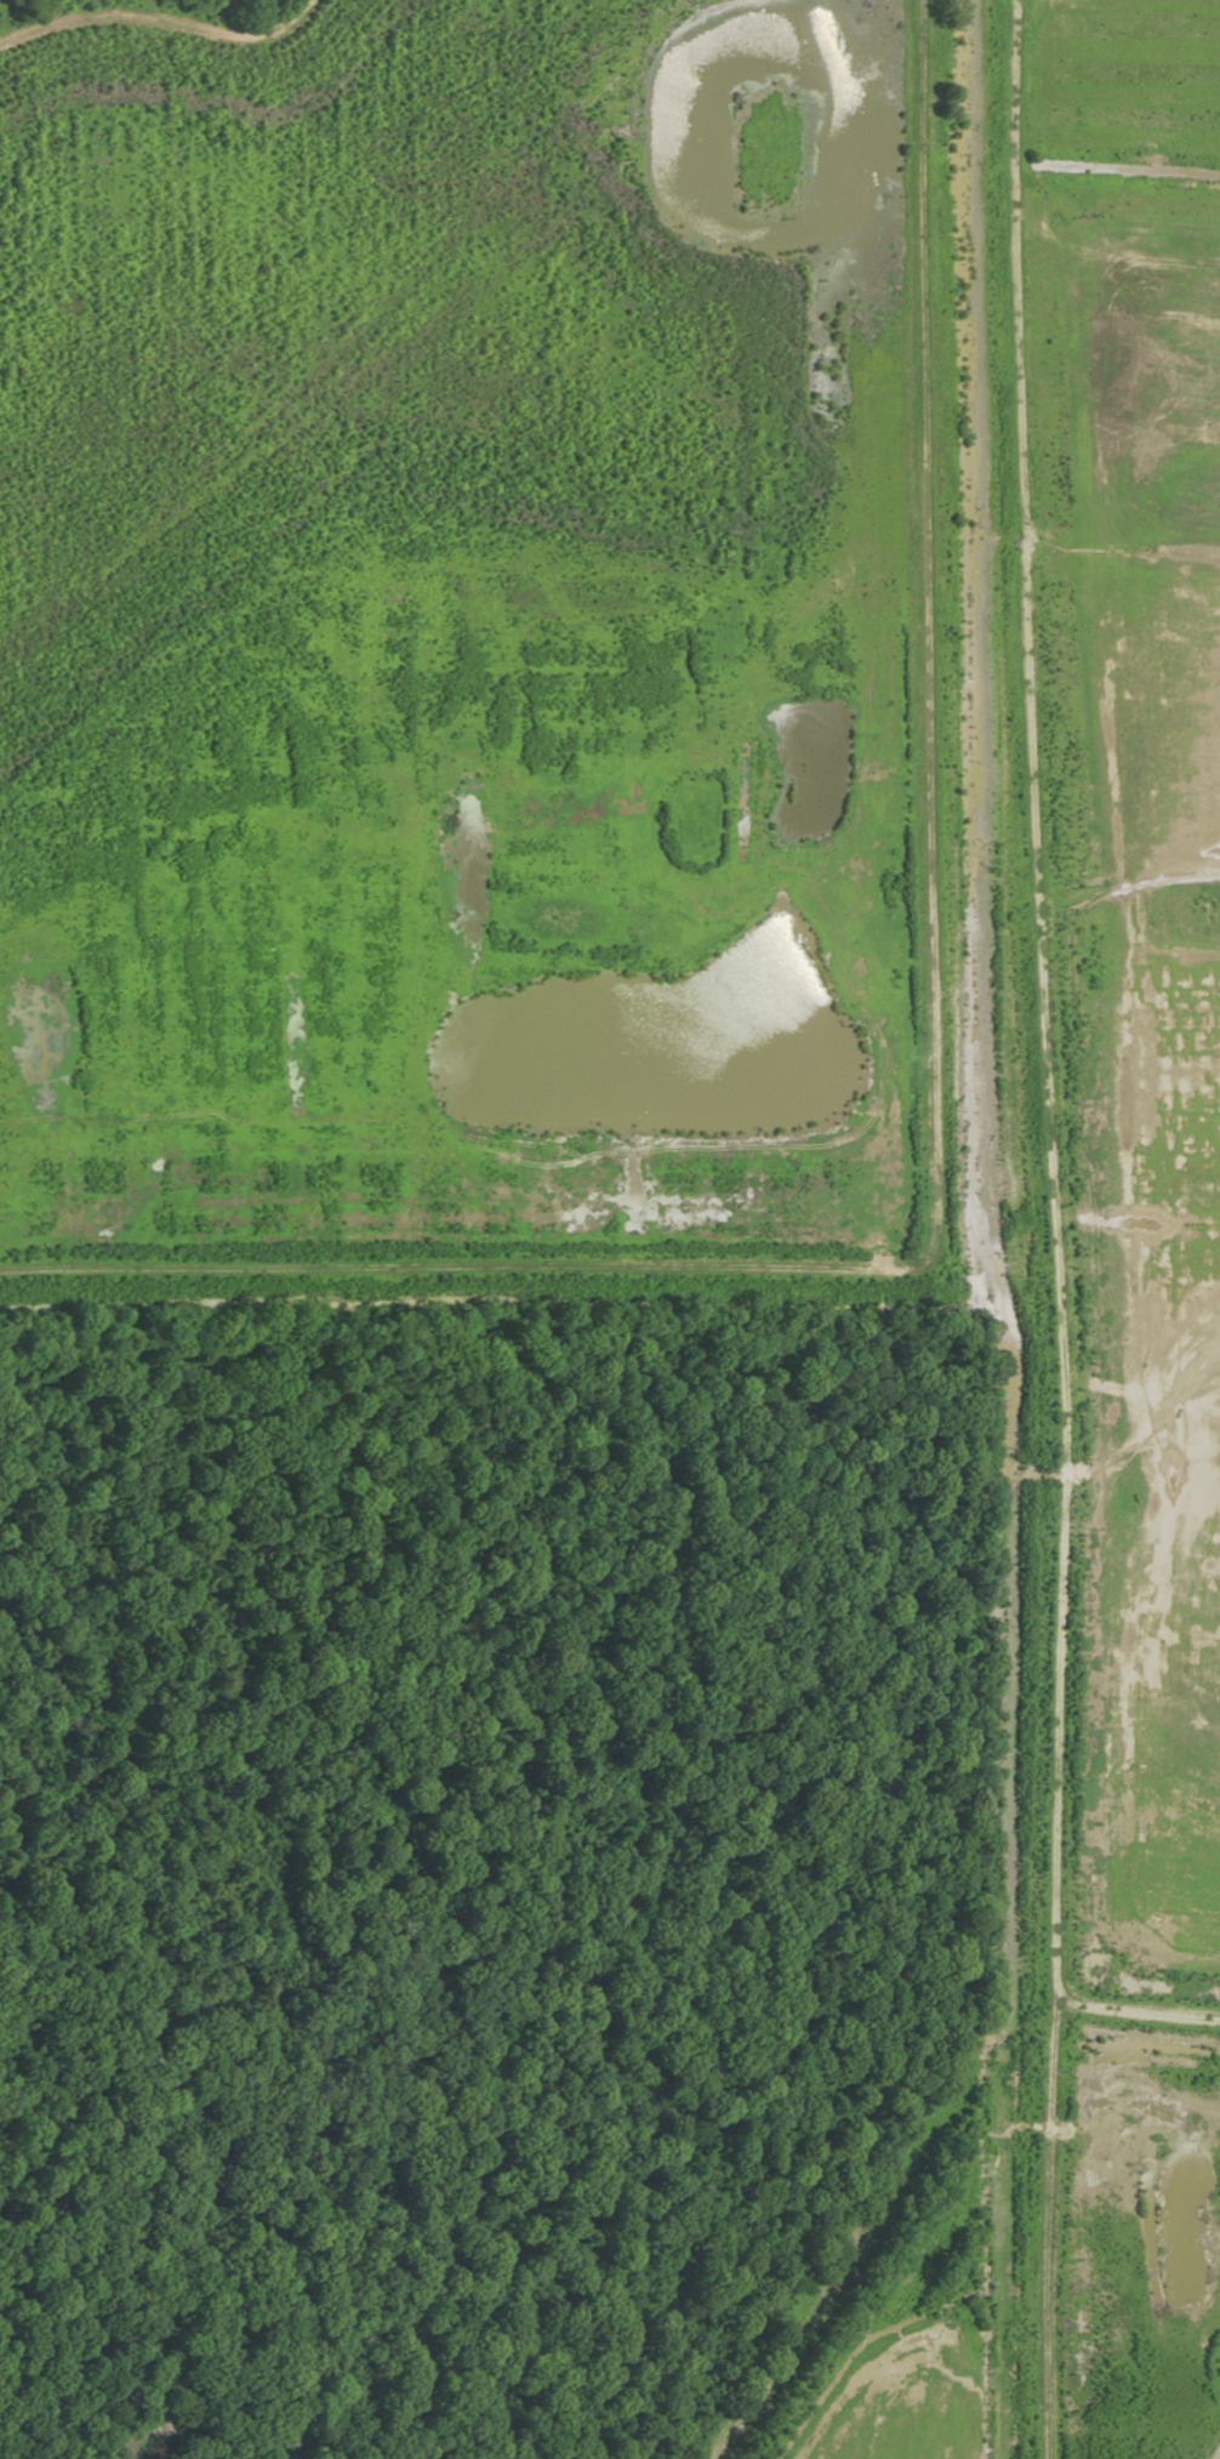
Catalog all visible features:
road: (159, 12)

